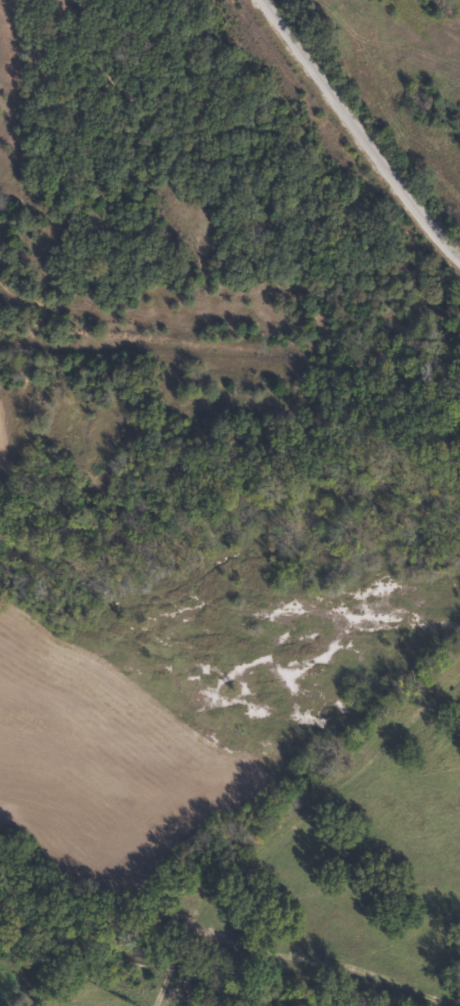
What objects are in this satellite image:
road: (336, 137)
road: (436, 257)
railway: (230, 346)

